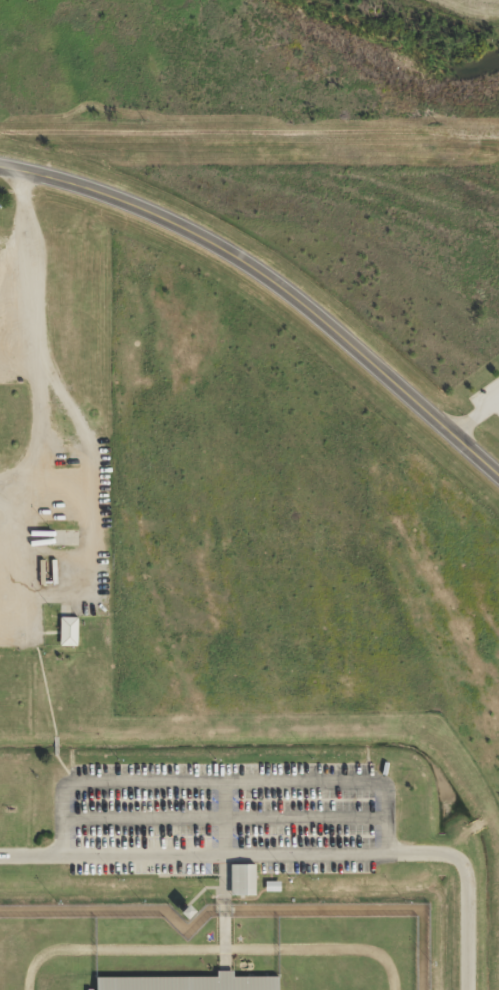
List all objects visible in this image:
road: (270, 283)
building: (71, 631)
road: (294, 852)
building: (246, 877)
building: (238, 887)
building: (270, 894)
building: (192, 982)

